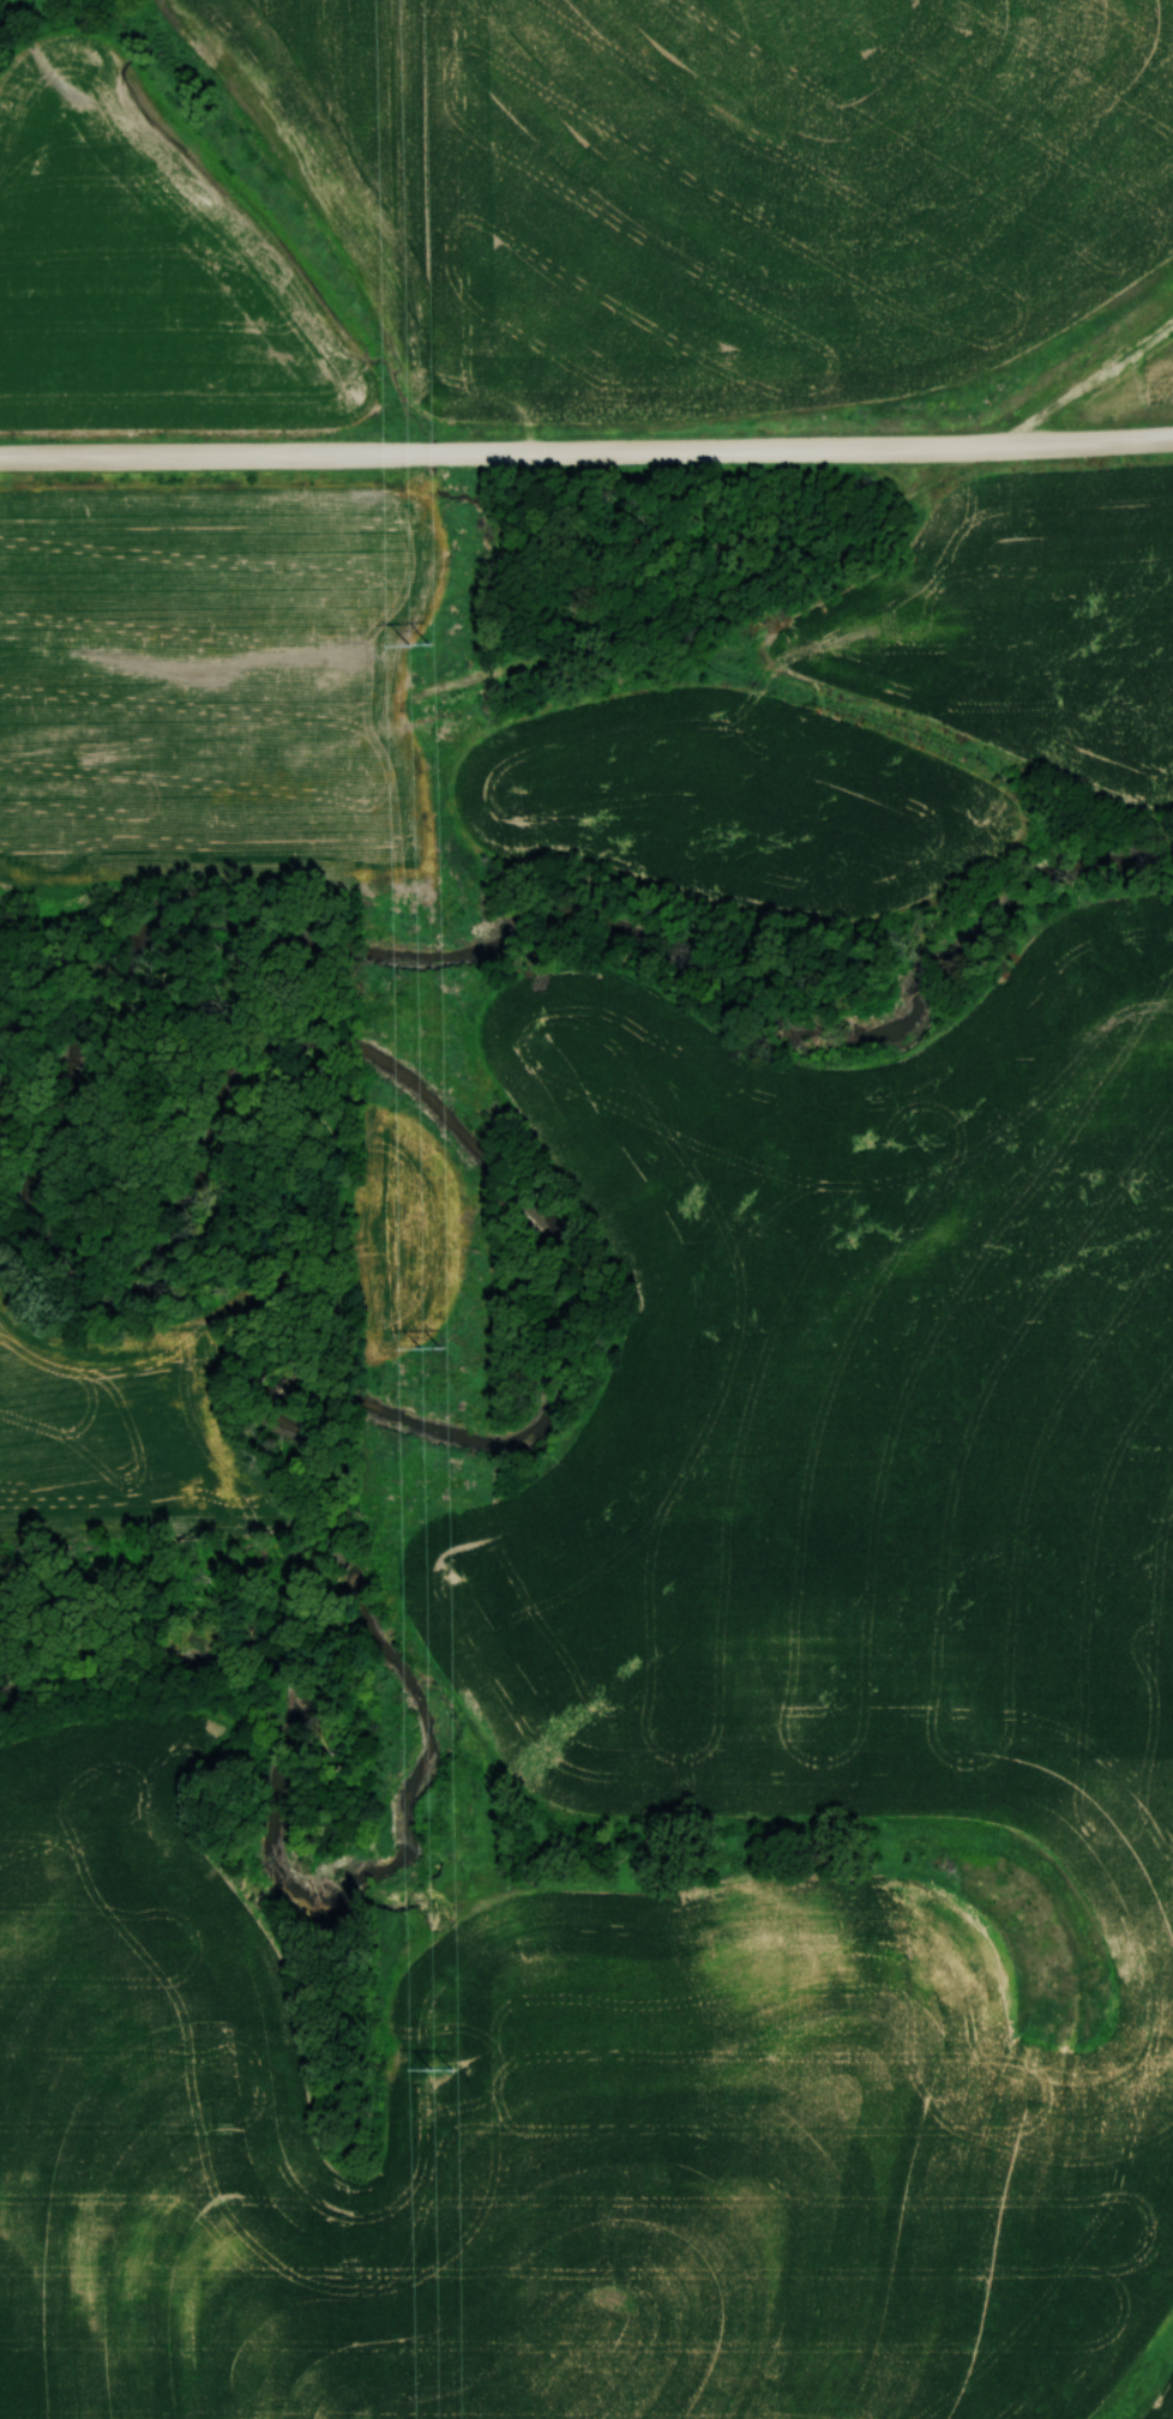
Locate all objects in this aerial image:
road: (586, 449)
power tower: (415, 645)
river: (282, 1041)
power tower: (423, 1346)
power tower: (437, 2070)

